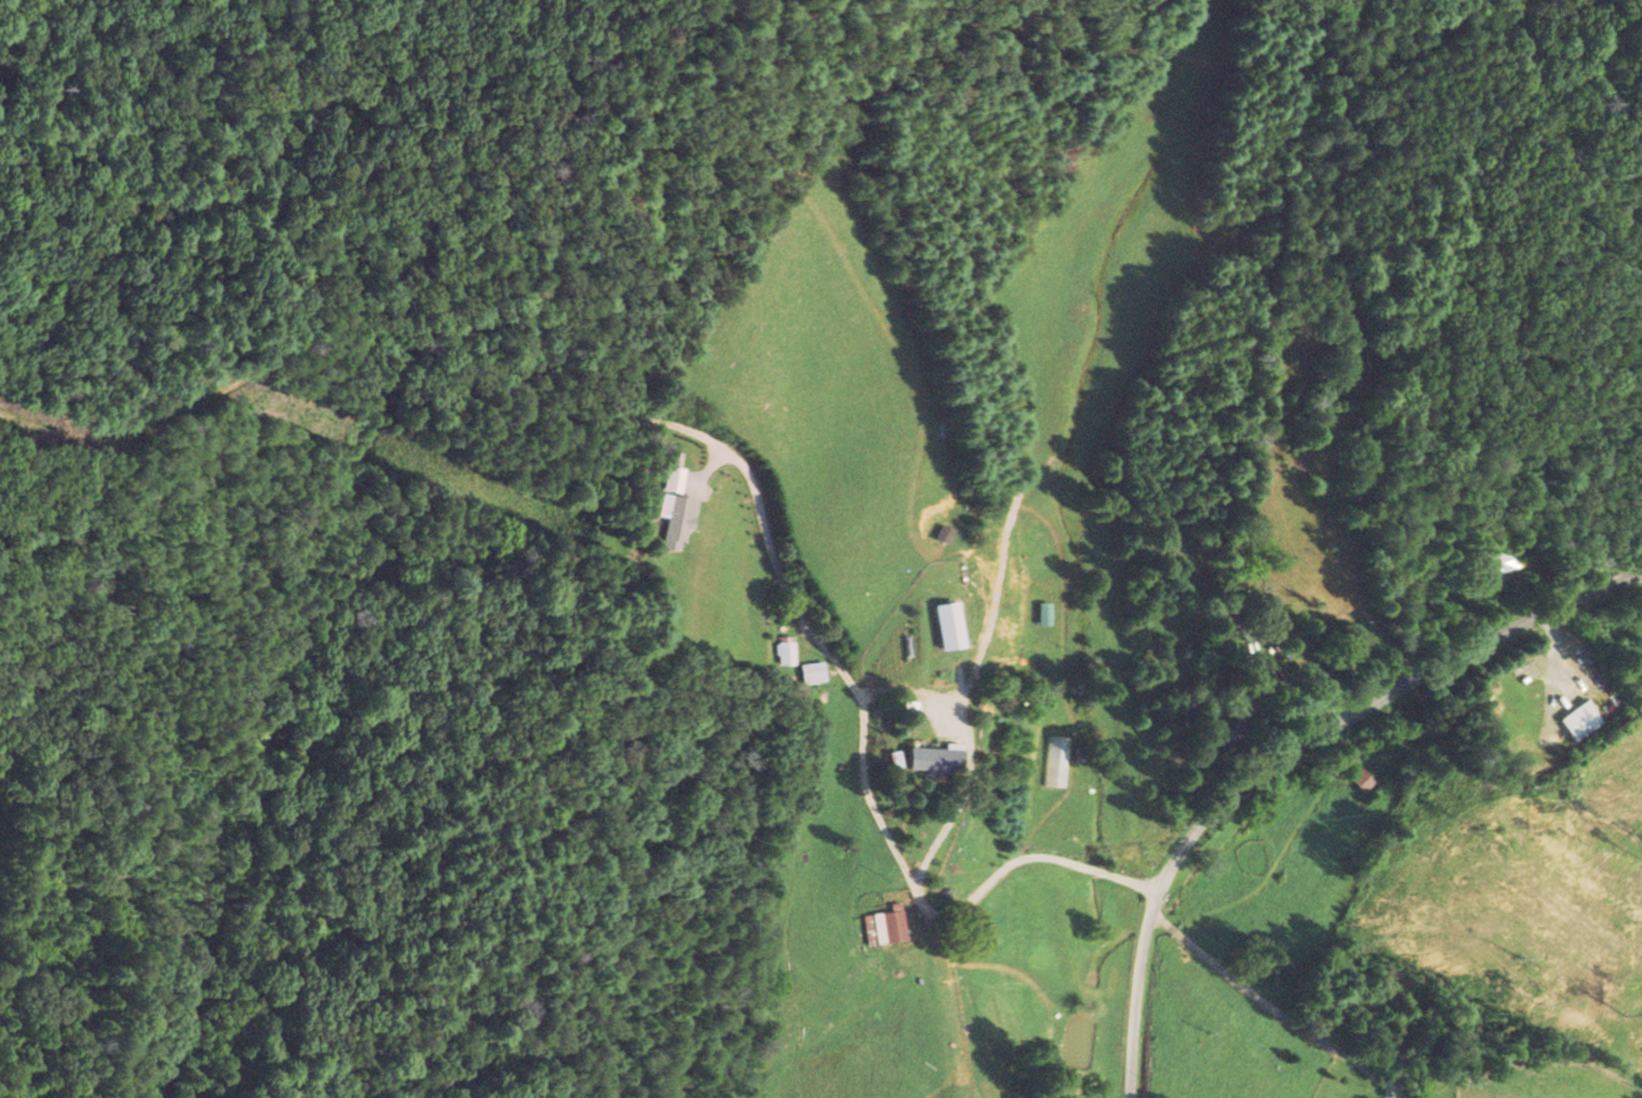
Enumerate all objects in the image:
road: (18, 417)
road: (709, 440)
building: (678, 519)
building: (1046, 613)
building: (951, 626)
building: (786, 651)
building: (814, 672)
building: (1582, 720)
road: (1283, 750)
building: (938, 758)
building: (1057, 761)
building: (1364, 779)
building: (886, 927)

